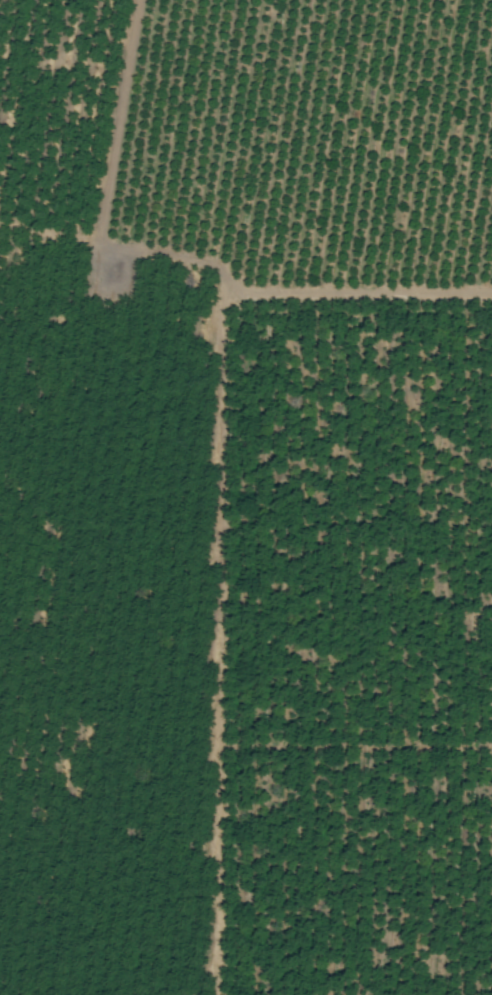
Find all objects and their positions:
building: (202, 150)

